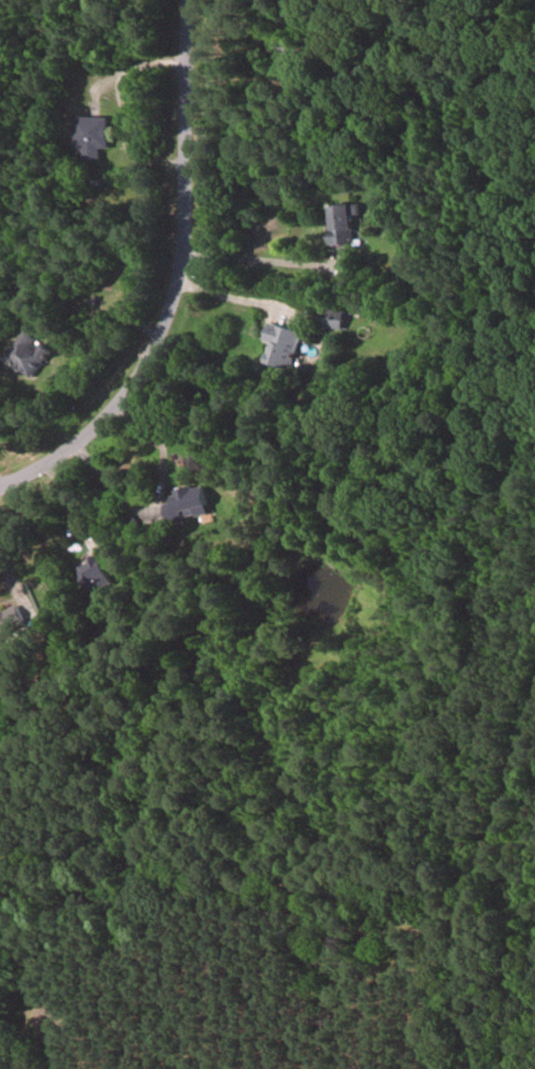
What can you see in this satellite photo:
road: (122, 109)
building: (90, 135)
building: (341, 224)
road: (257, 258)
road: (175, 283)
road: (233, 297)
building: (279, 345)
building: (22, 354)
road: (156, 497)
building: (188, 502)
road: (9, 571)
building: (98, 575)
road: (477, 879)

